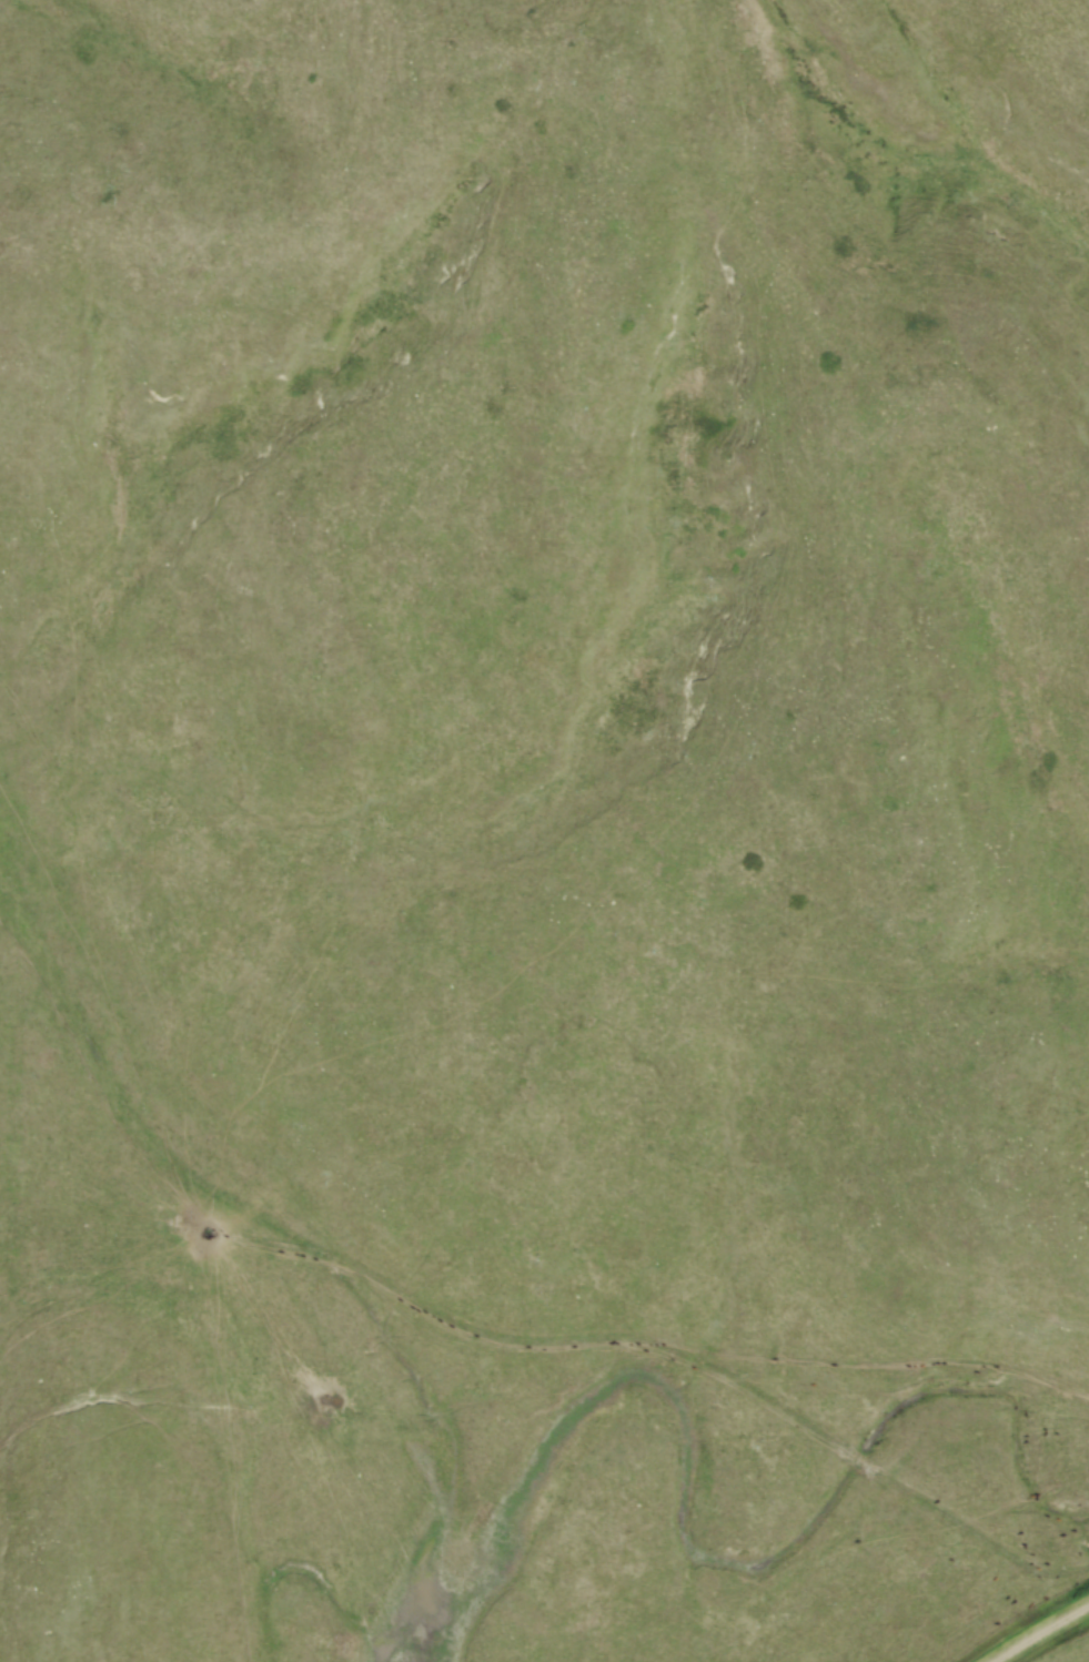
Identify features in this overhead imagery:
road: (1037, 1631)

